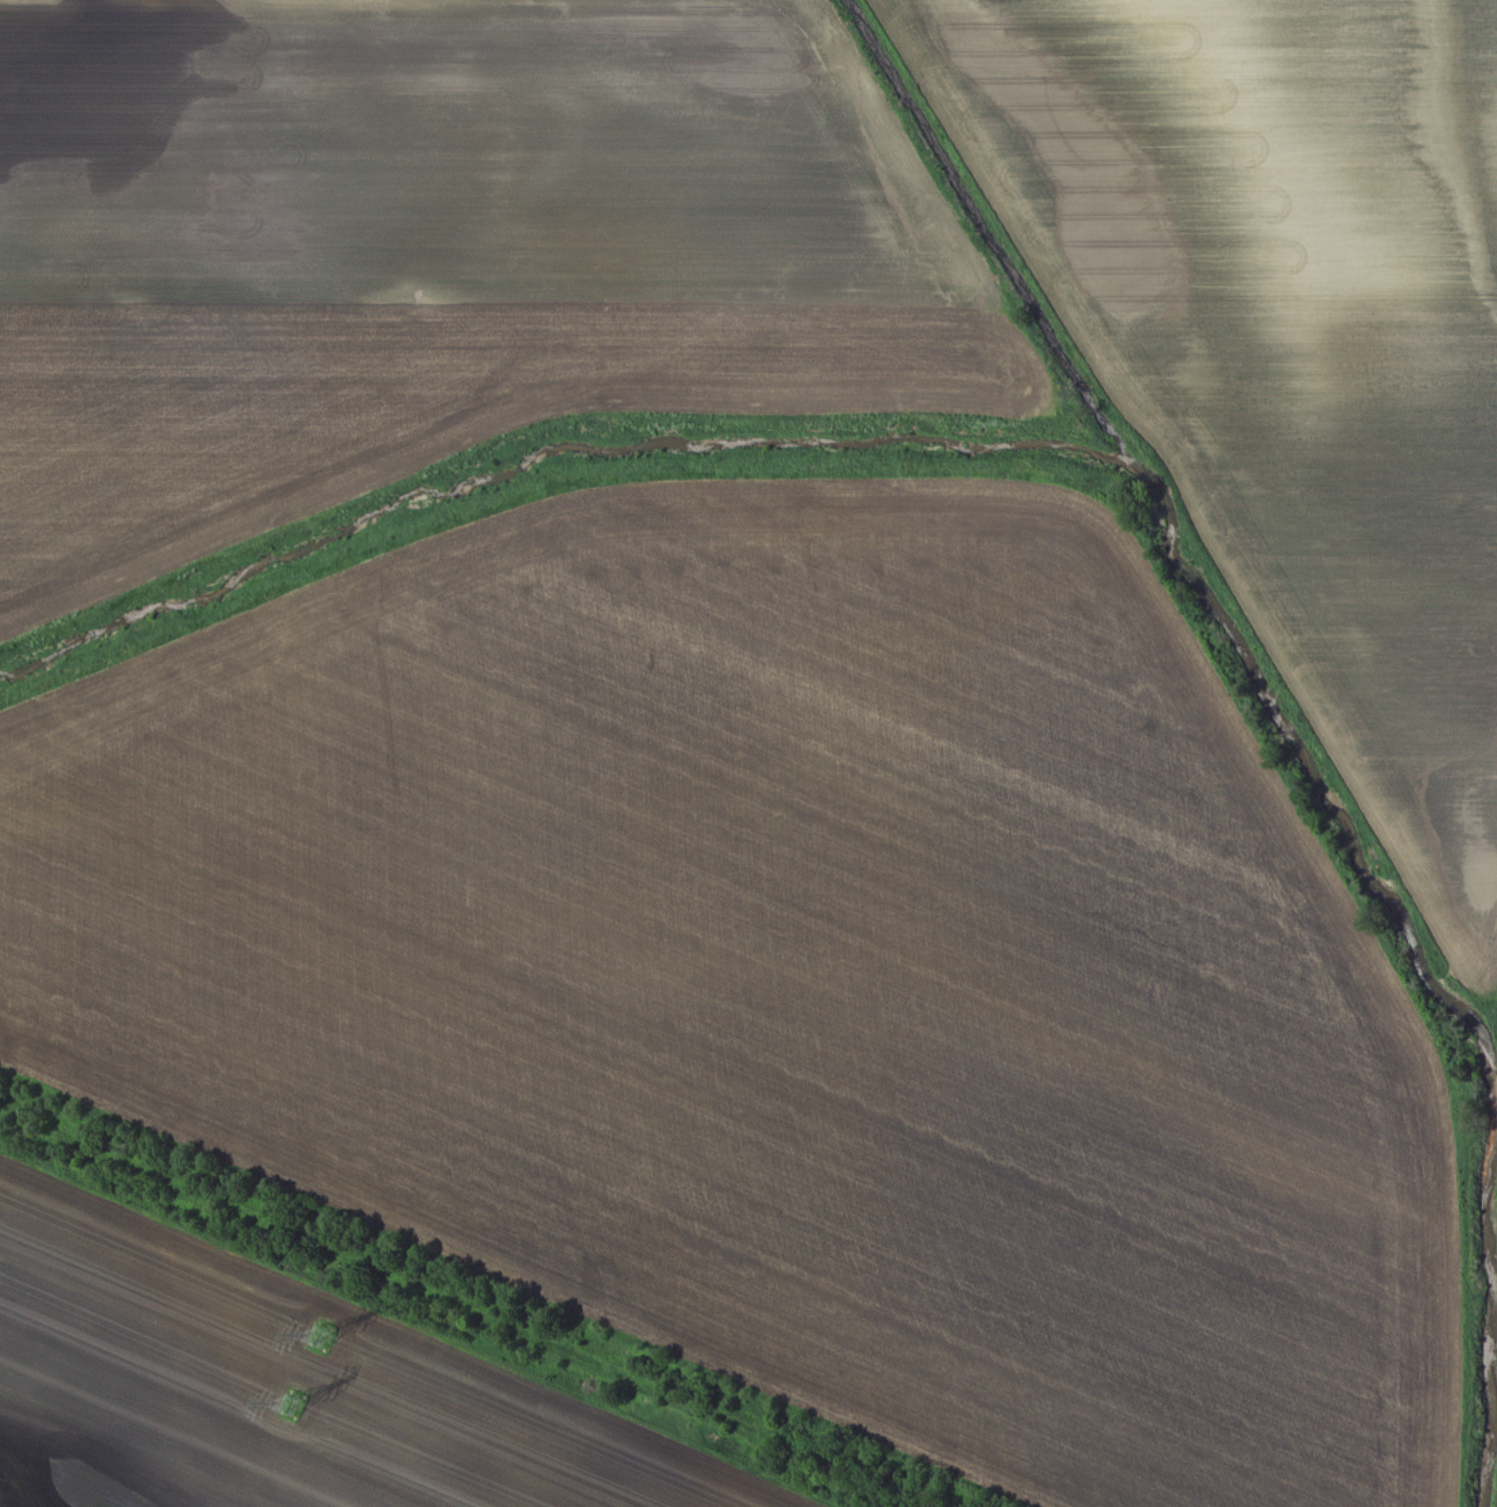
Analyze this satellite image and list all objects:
power tower: (323, 1332)
power tower: (289, 1404)

